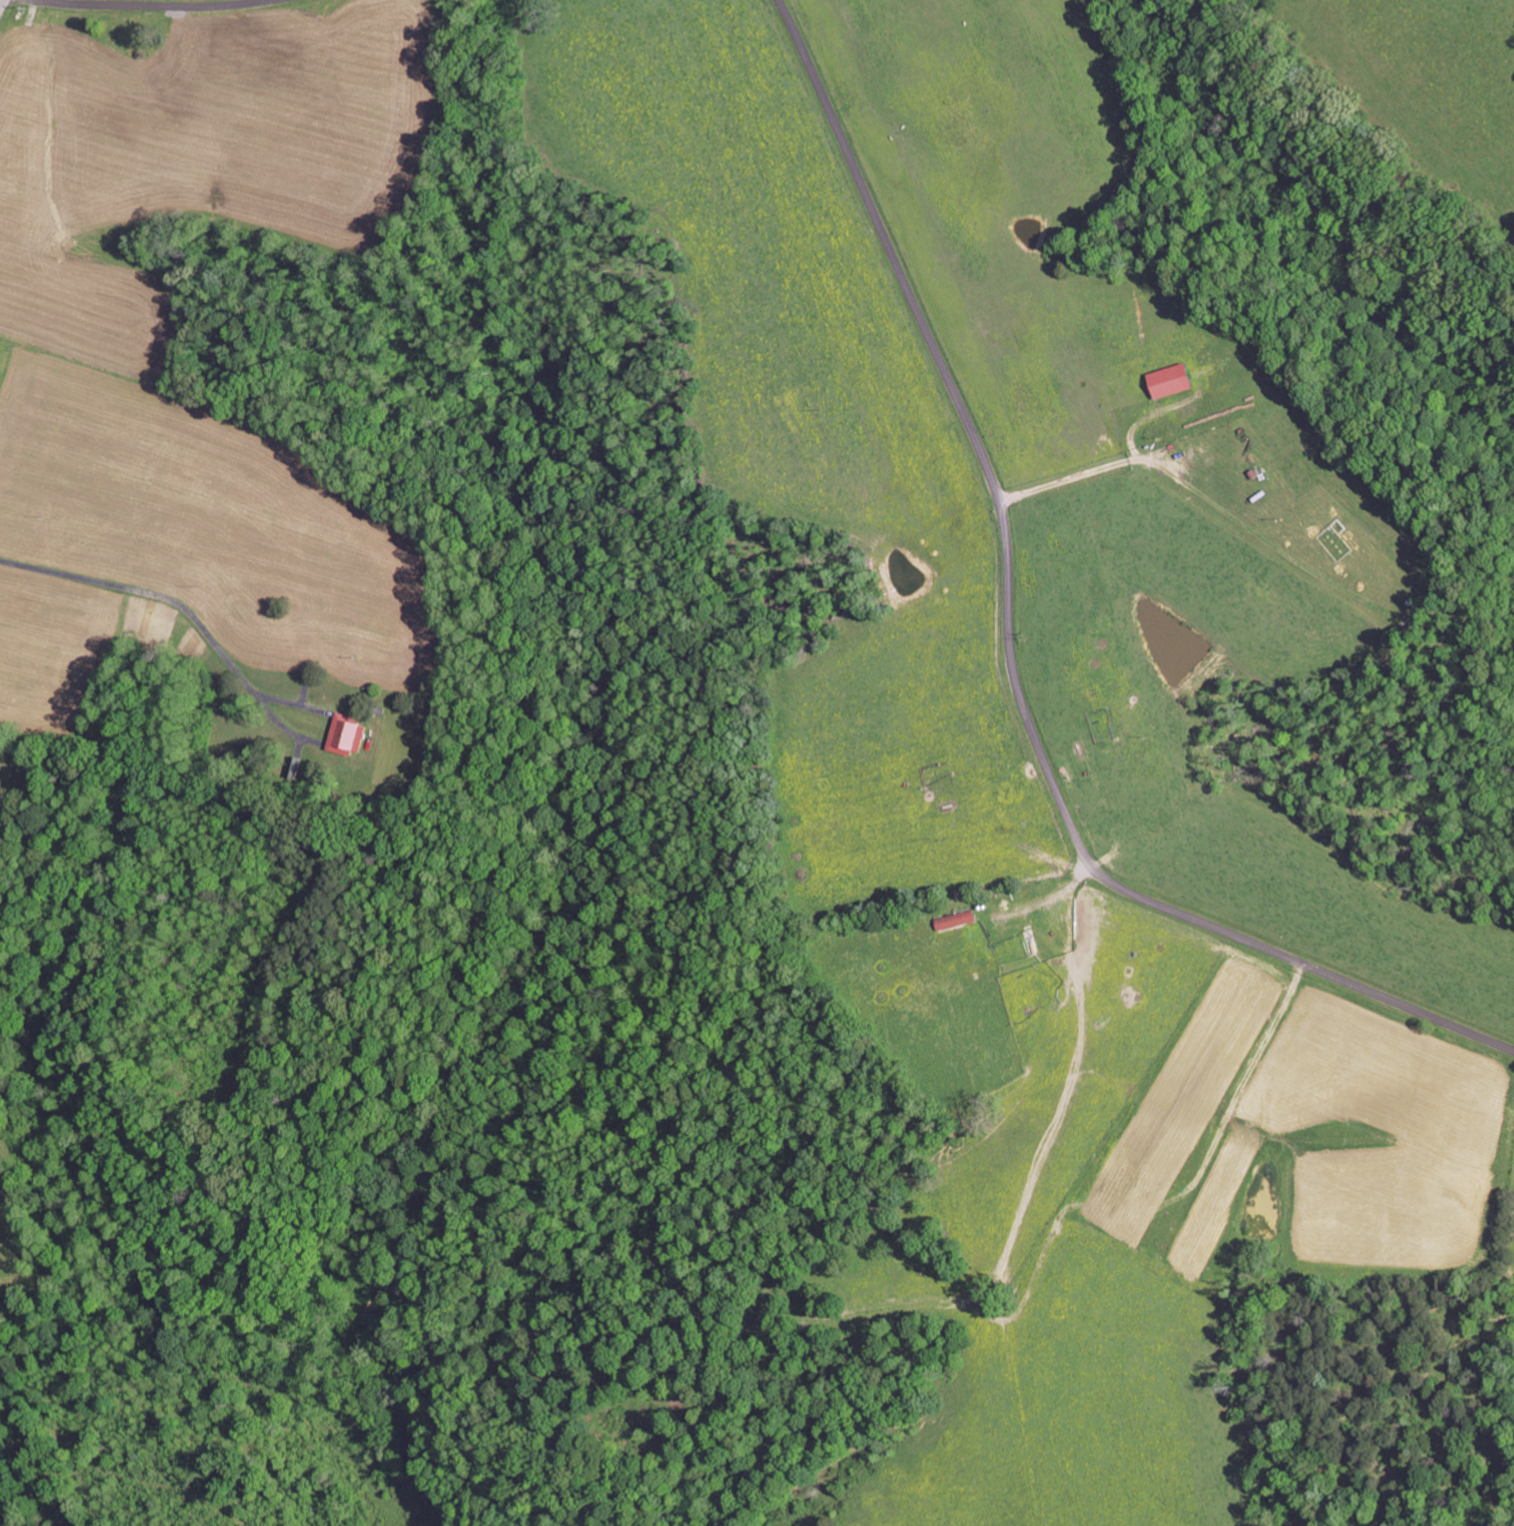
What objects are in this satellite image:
road: (0, 1)
road: (138, 8)
building: (0, 352)
building: (1172, 380)
road: (1011, 648)
road: (97, 715)
building: (347, 734)
building: (955, 920)

